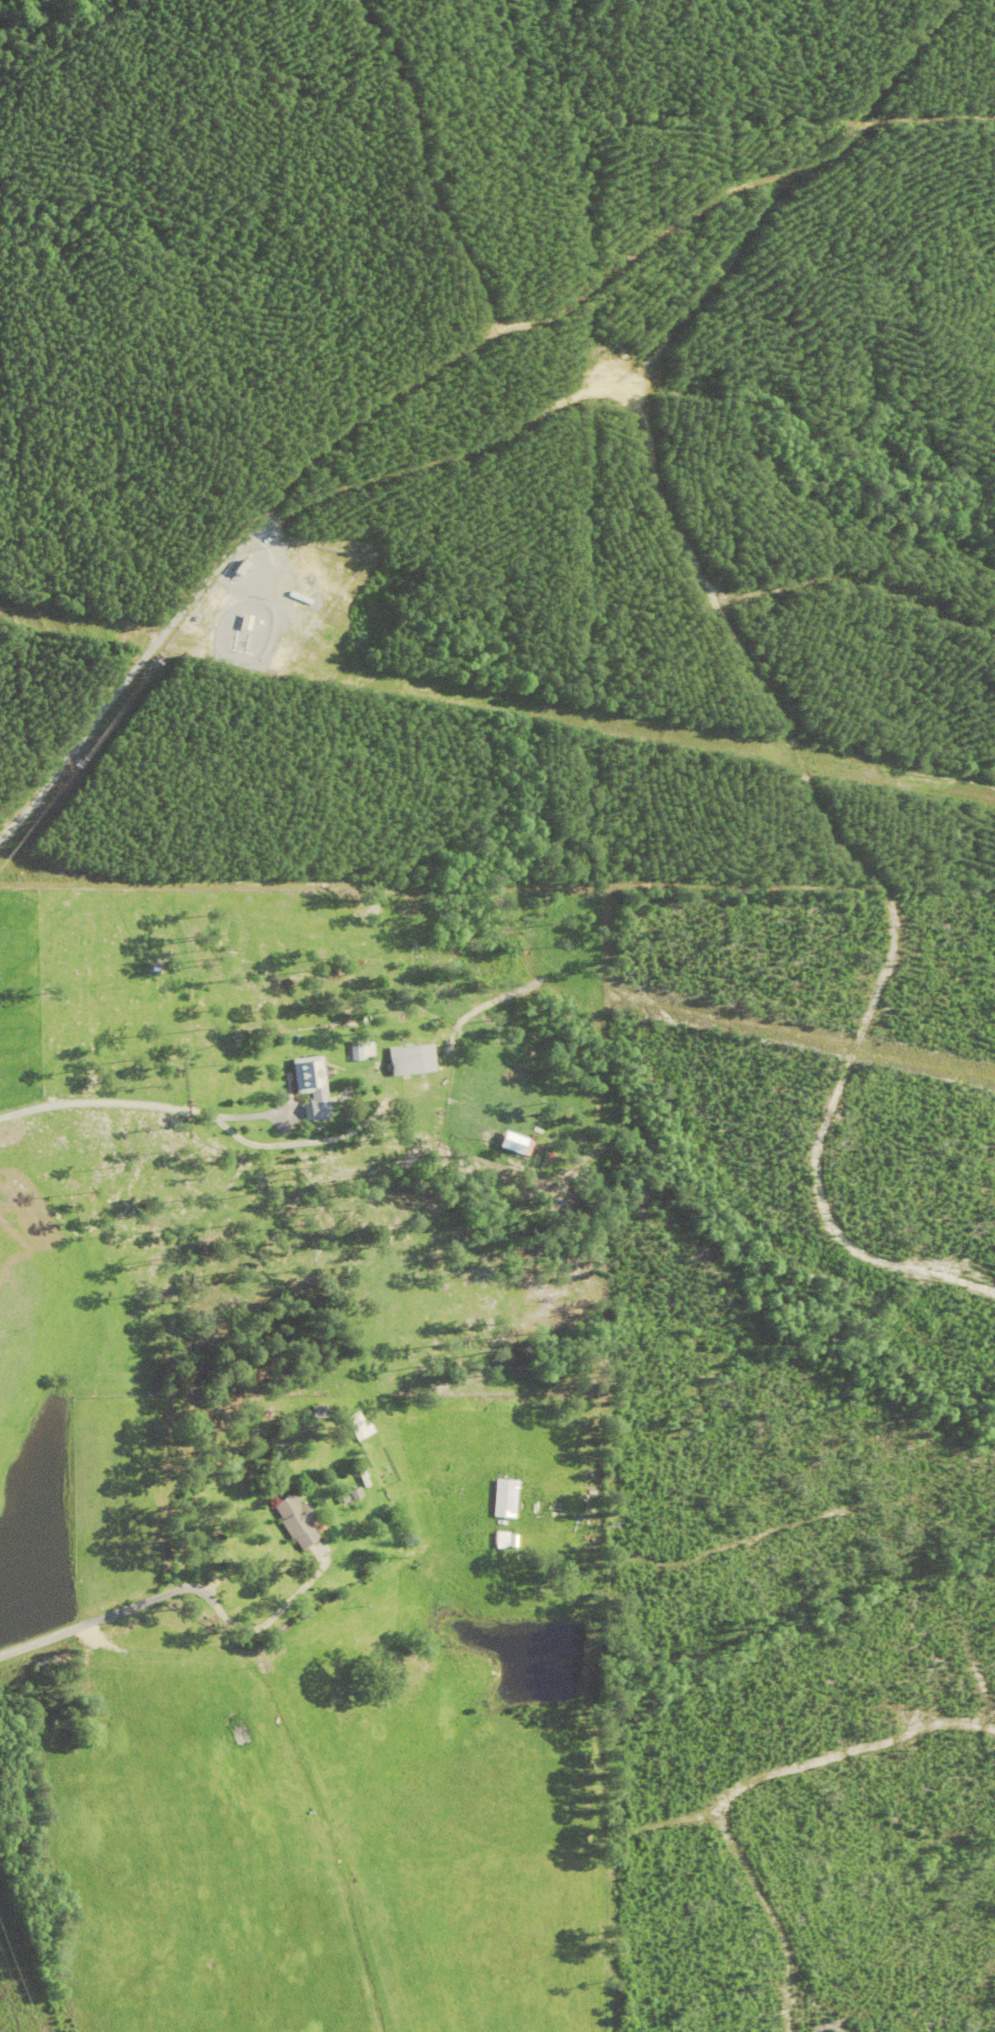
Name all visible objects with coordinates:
road: (87, 733)
building: (410, 1059)
building: (309, 1084)
road: (130, 1106)
building: (504, 1498)
building: (295, 1520)
road: (105, 1617)
road: (262, 1624)

